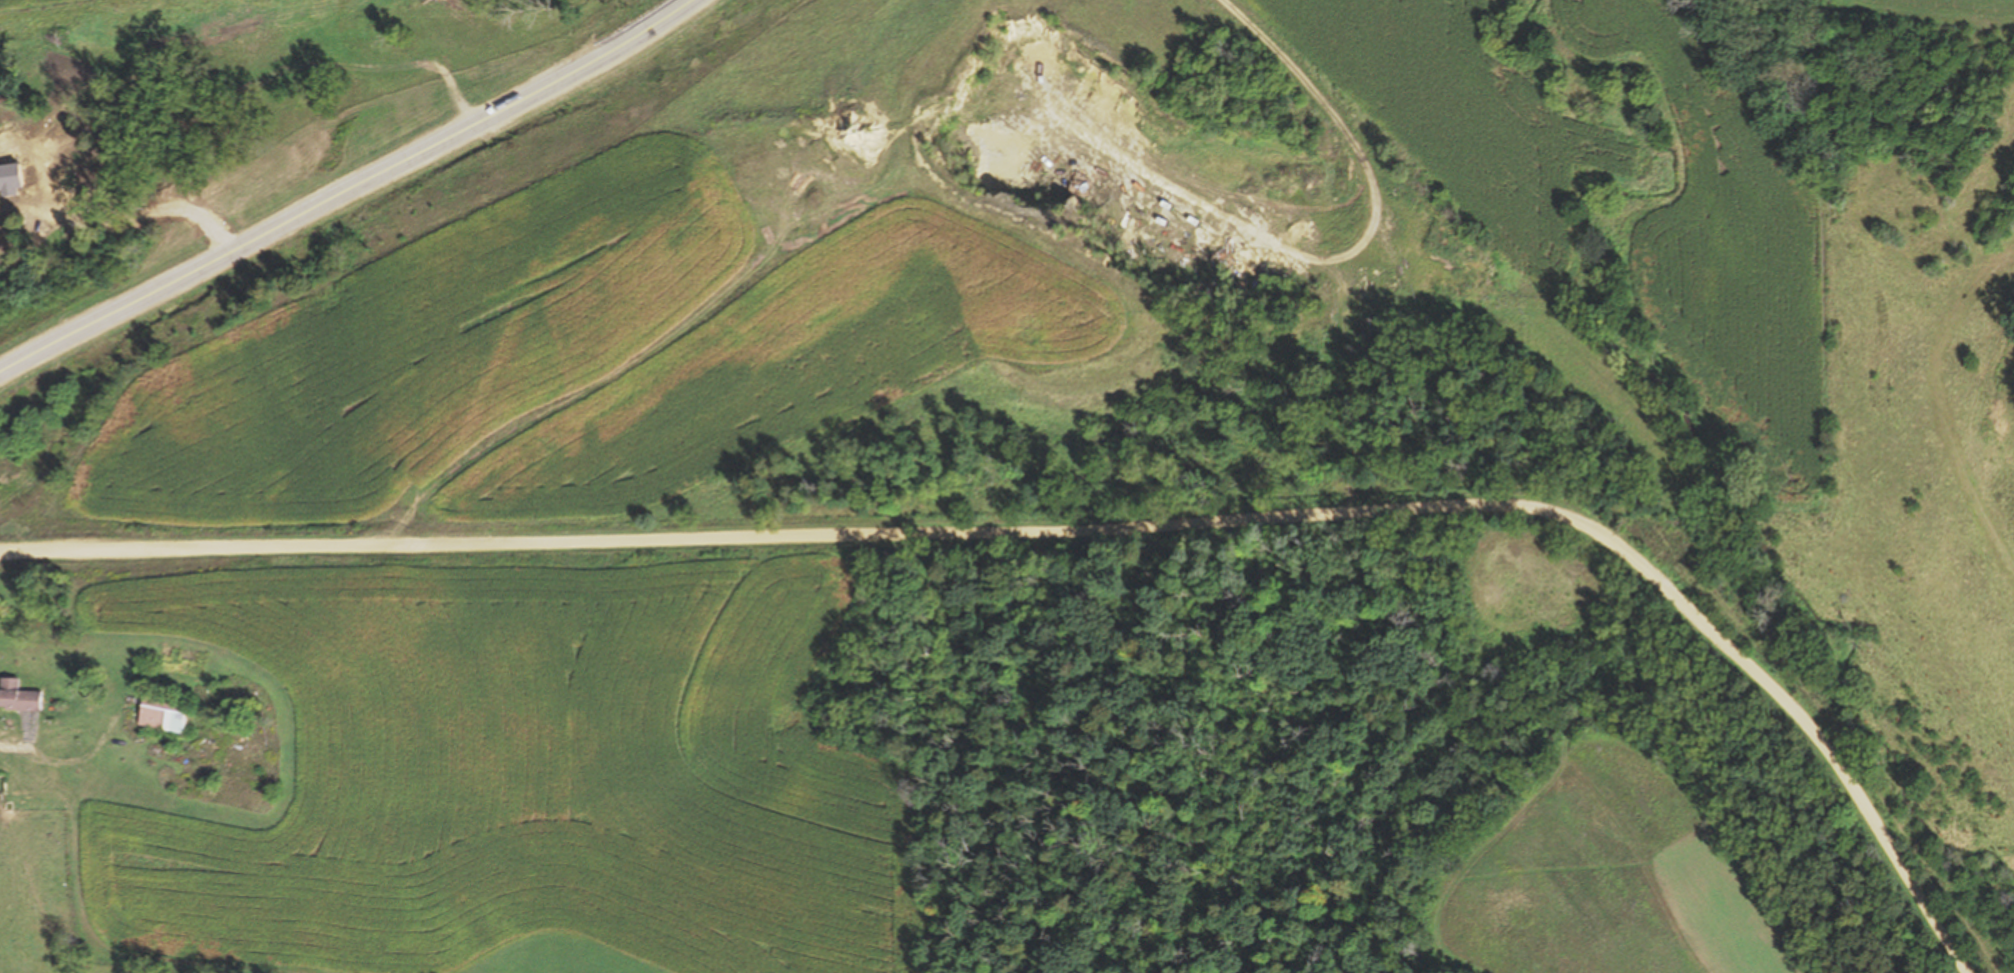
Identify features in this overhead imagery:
quarry: (1208, 190)
road: (351, 192)
road: (1368, 211)
road: (1351, 381)
road: (1090, 528)
building: (18, 696)
building: (163, 713)

